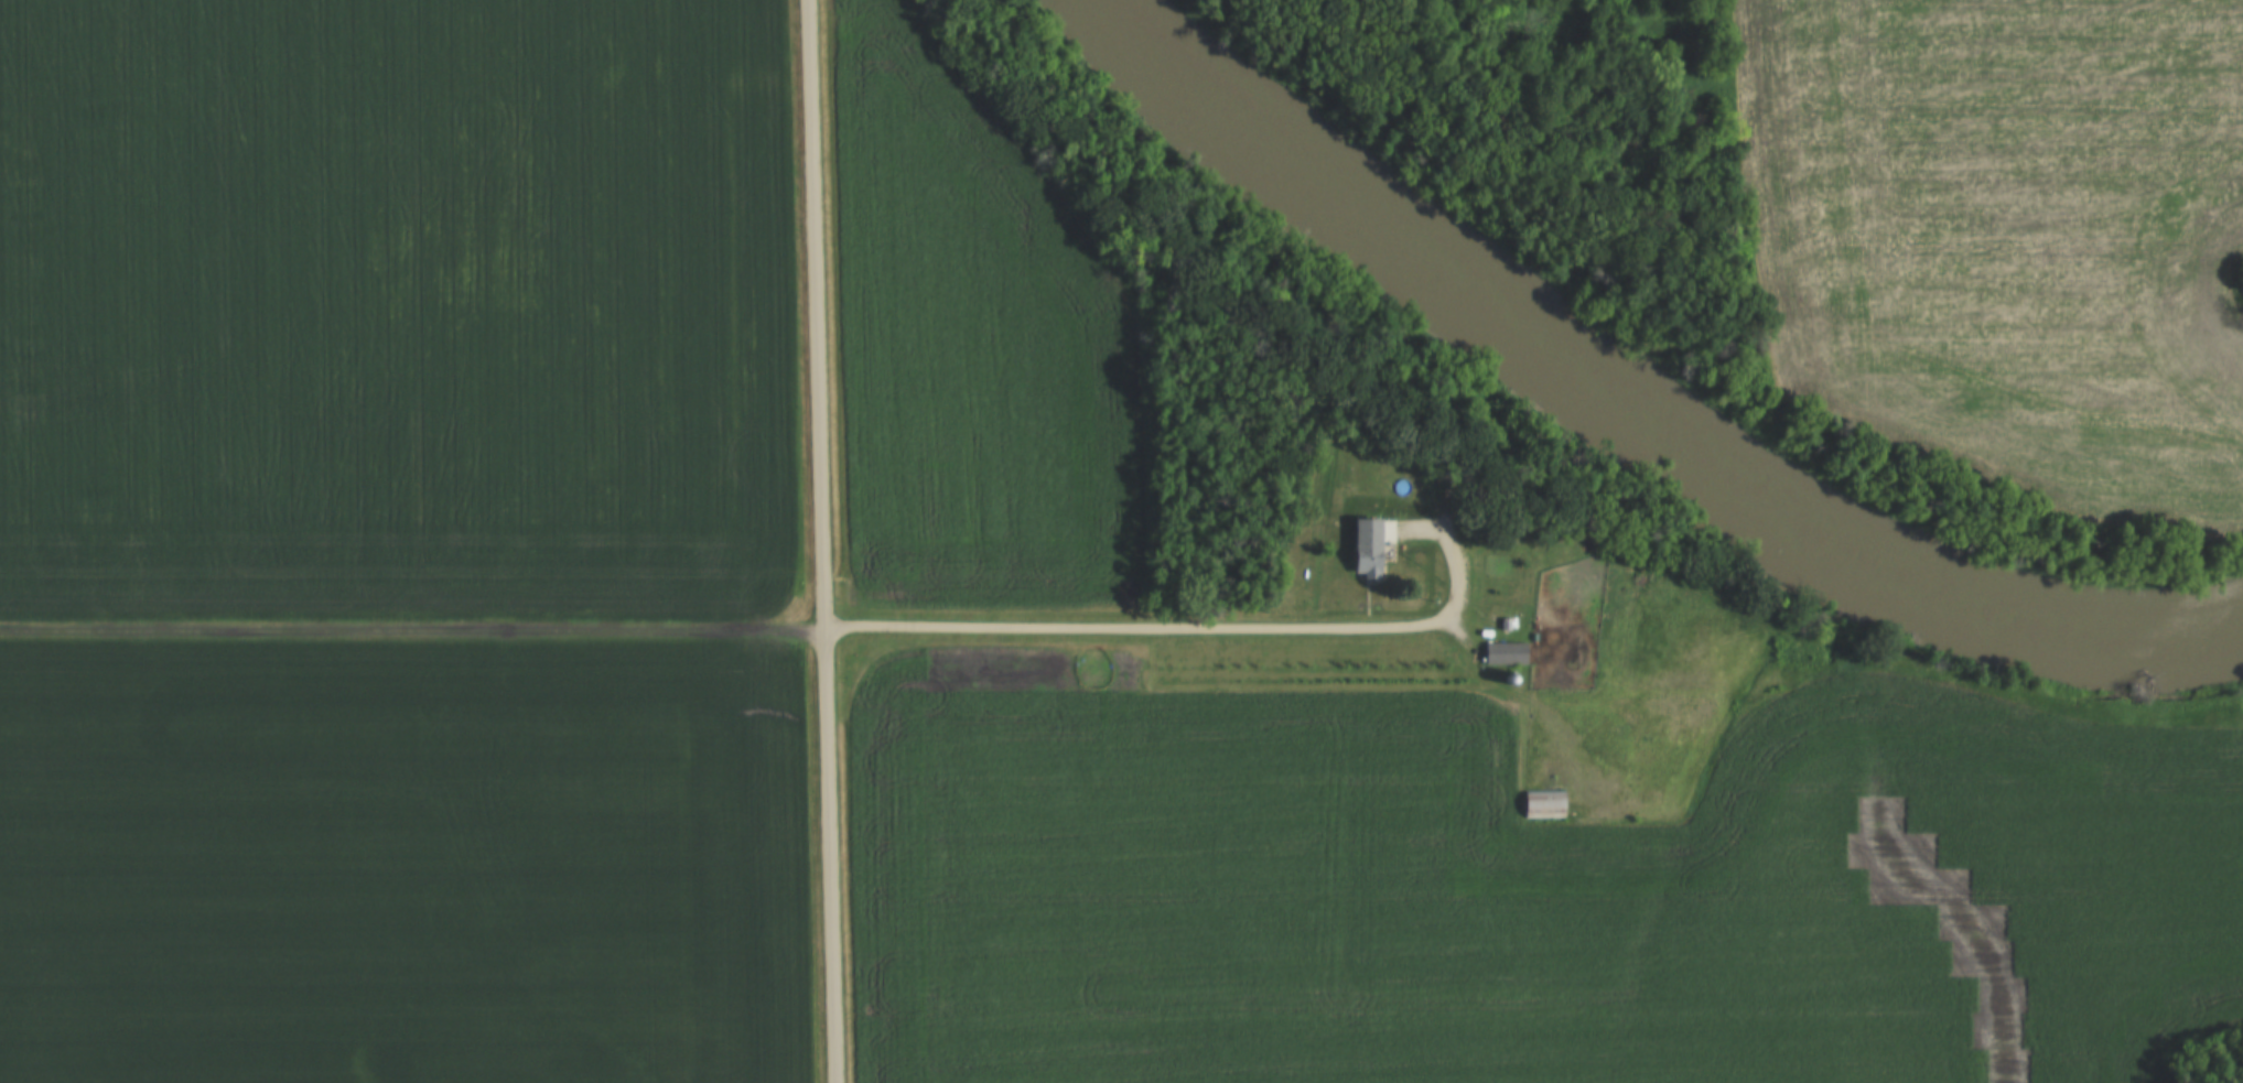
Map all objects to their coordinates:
river: (1626, 412)
road: (823, 541)
building: (1365, 560)
road: (413, 632)
road: (1189, 635)
building: (1503, 653)
building: (1542, 805)

